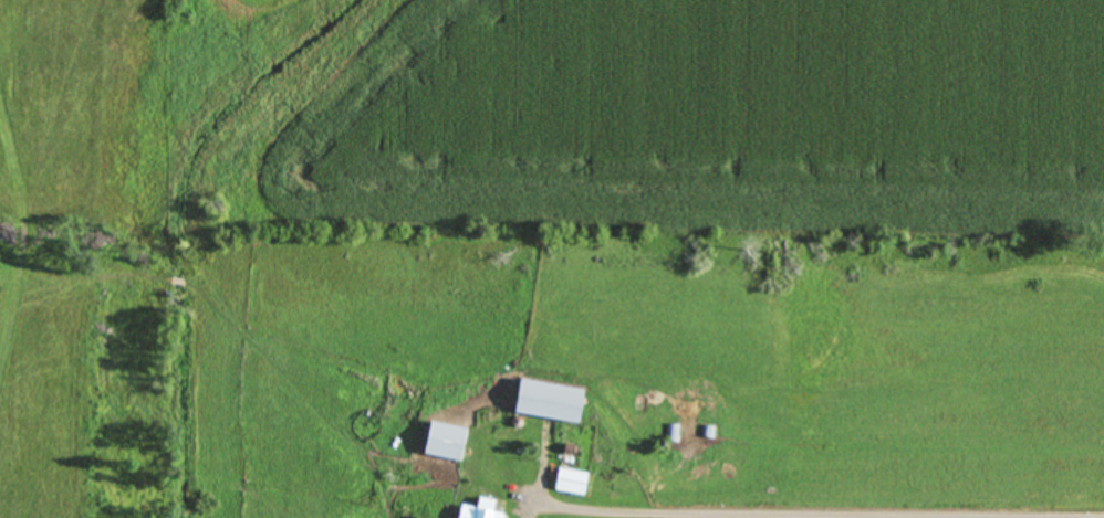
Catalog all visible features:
building: (545, 401)
building: (673, 433)
building: (441, 441)
building: (567, 480)
building: (476, 510)
road: (850, 514)

